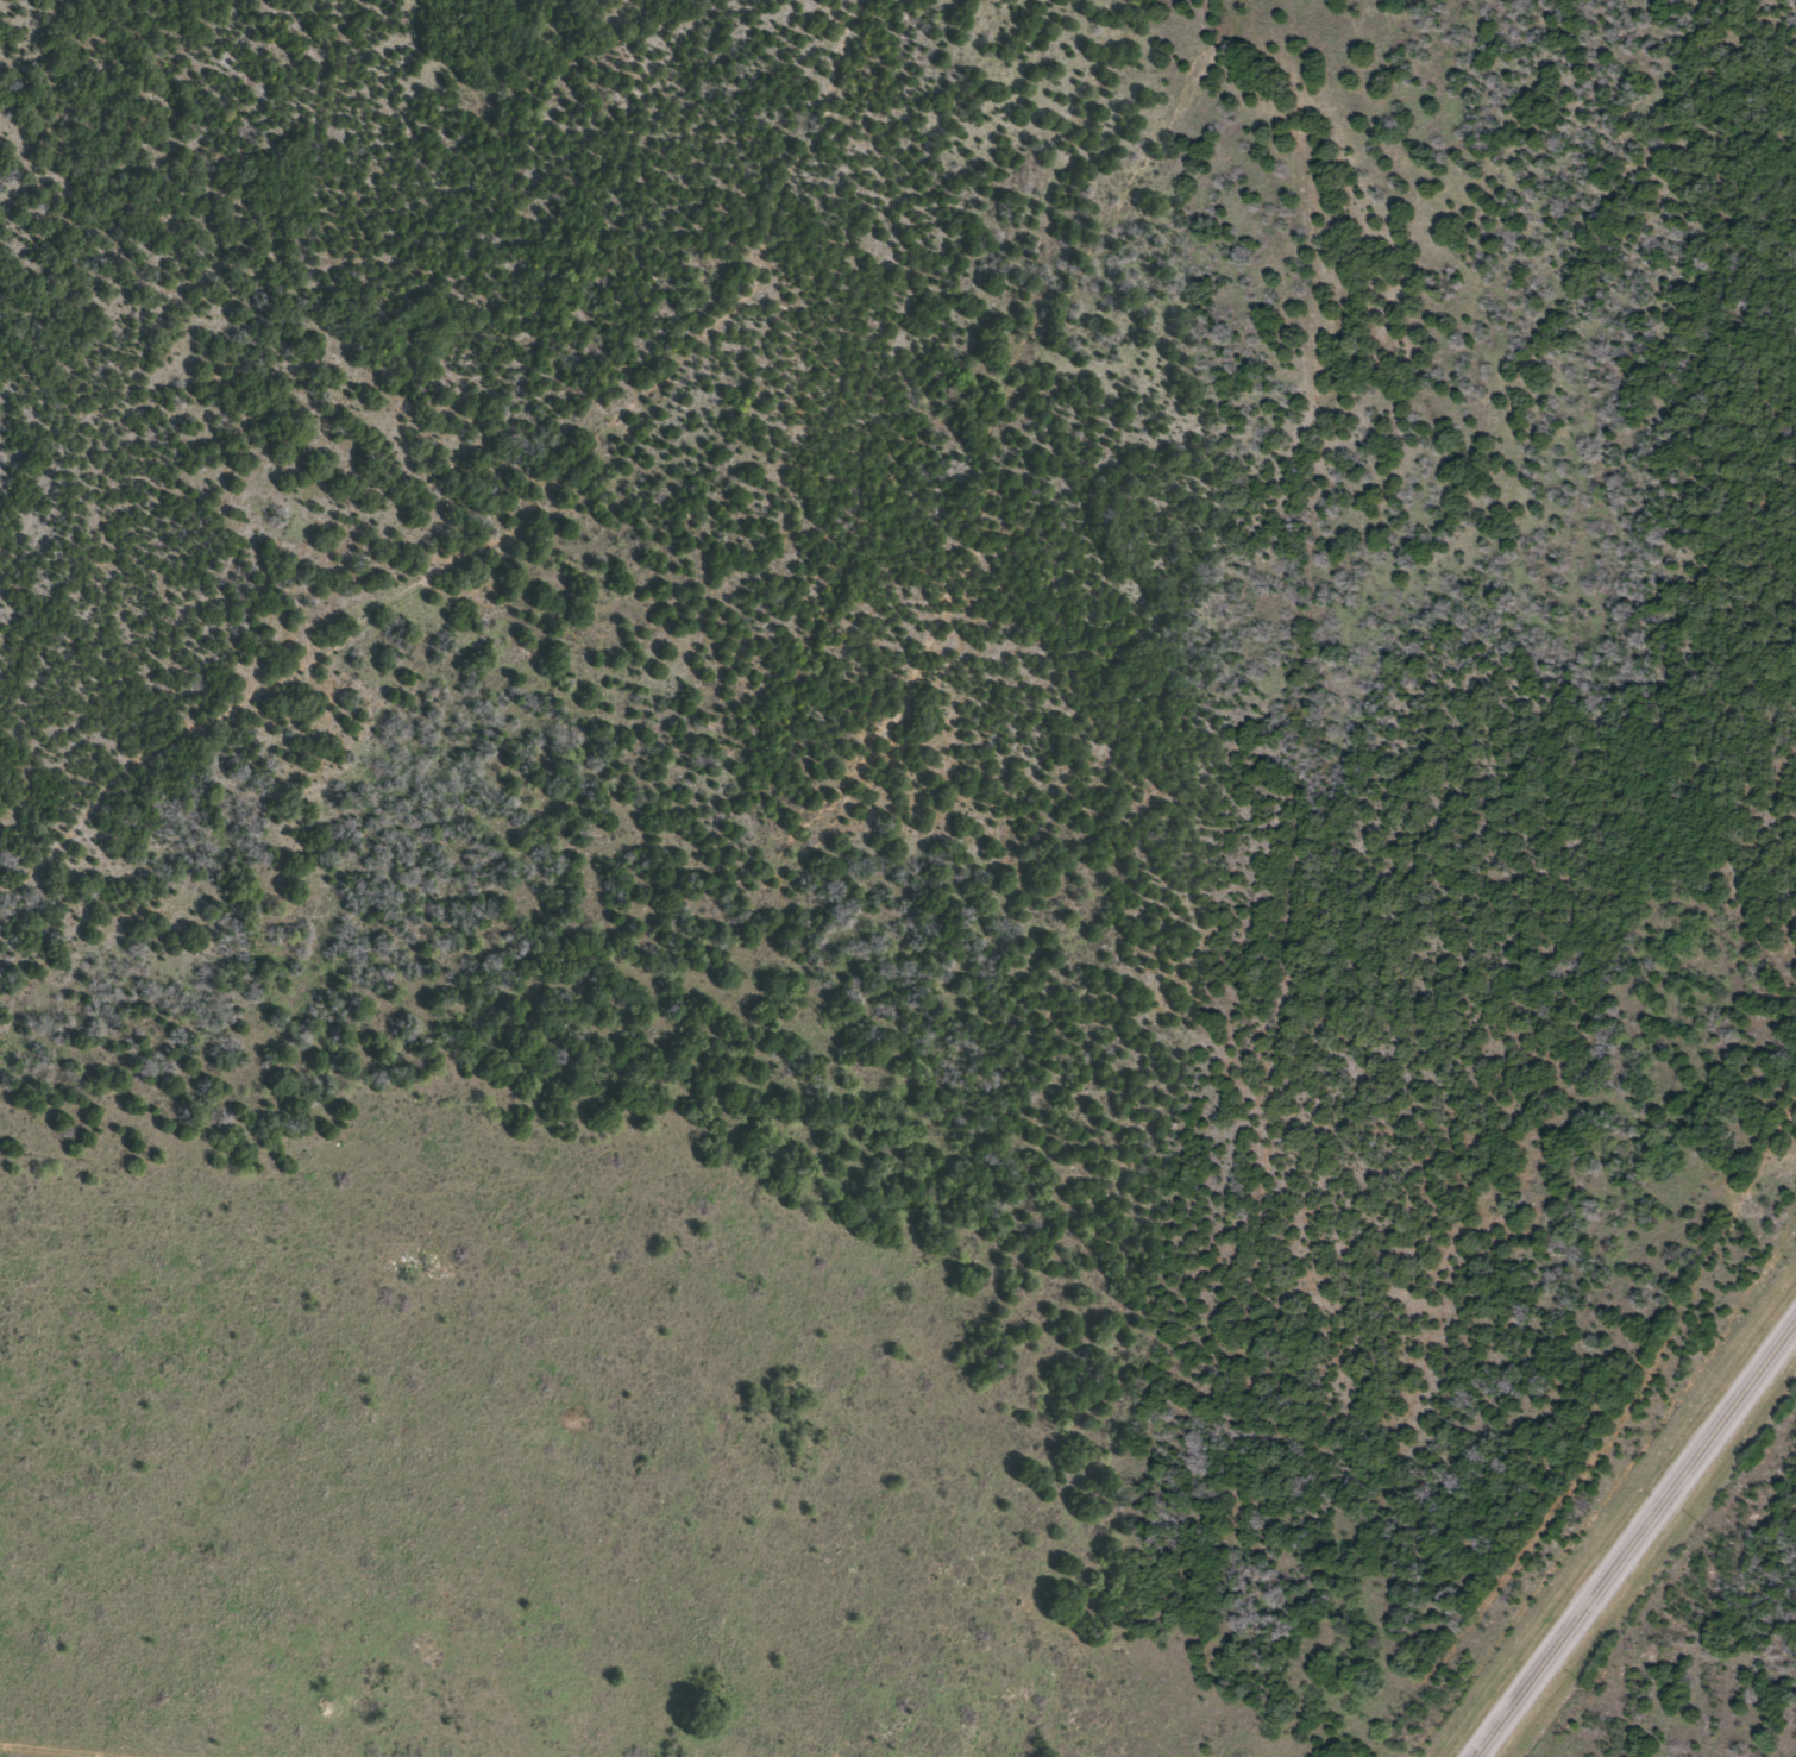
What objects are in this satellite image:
road: (1633, 1538)

